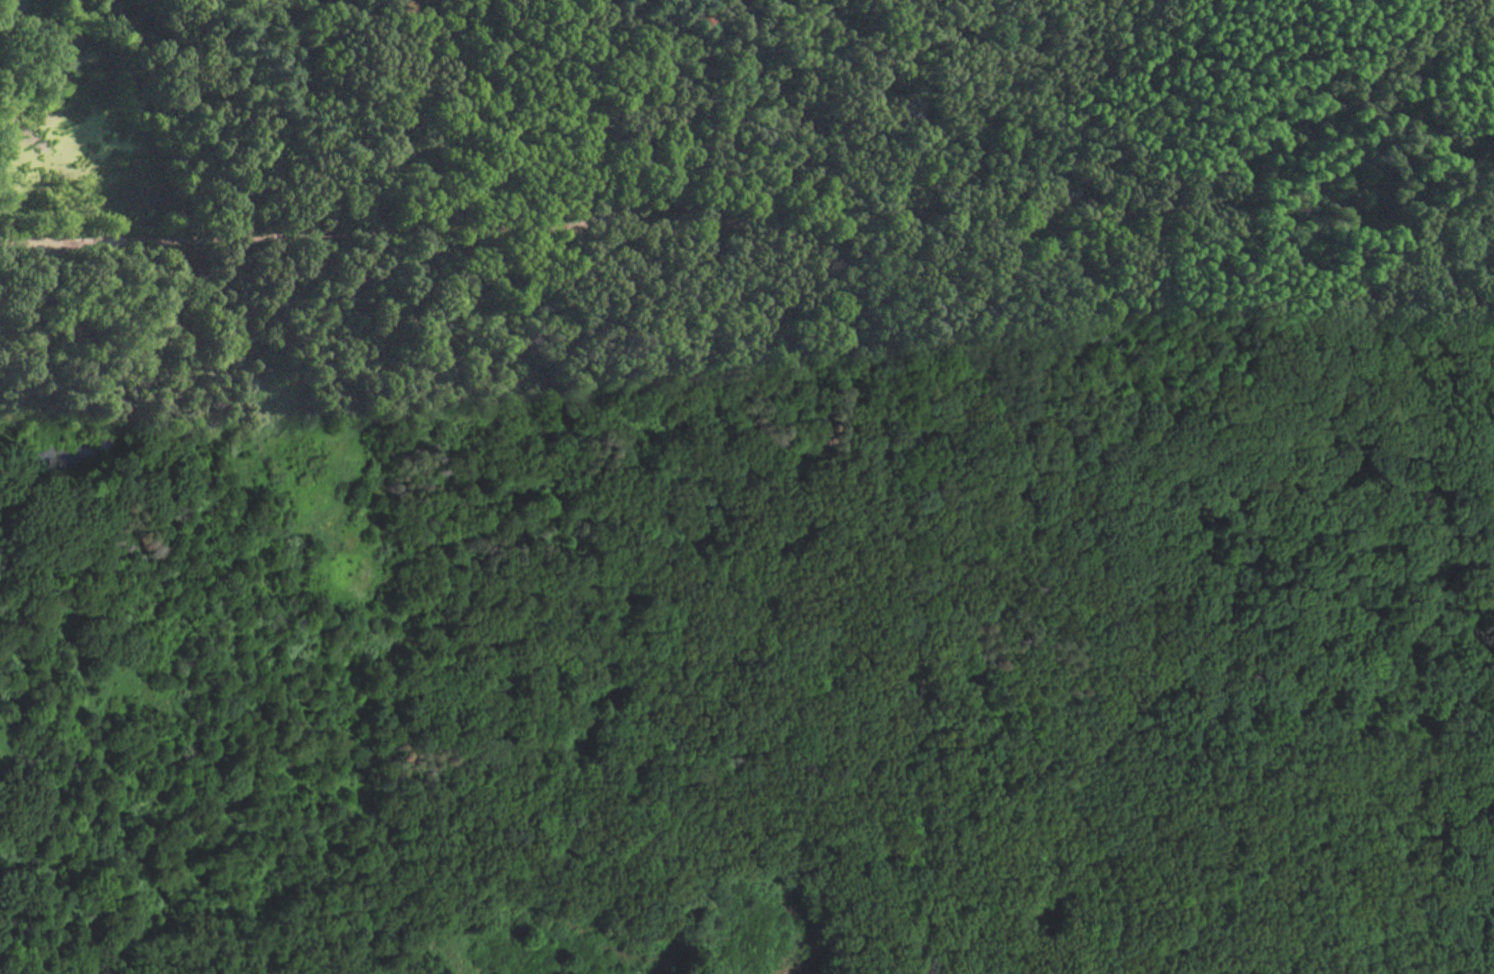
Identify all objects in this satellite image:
road: (889, 106)
road: (776, 214)
park: (747, 486)

